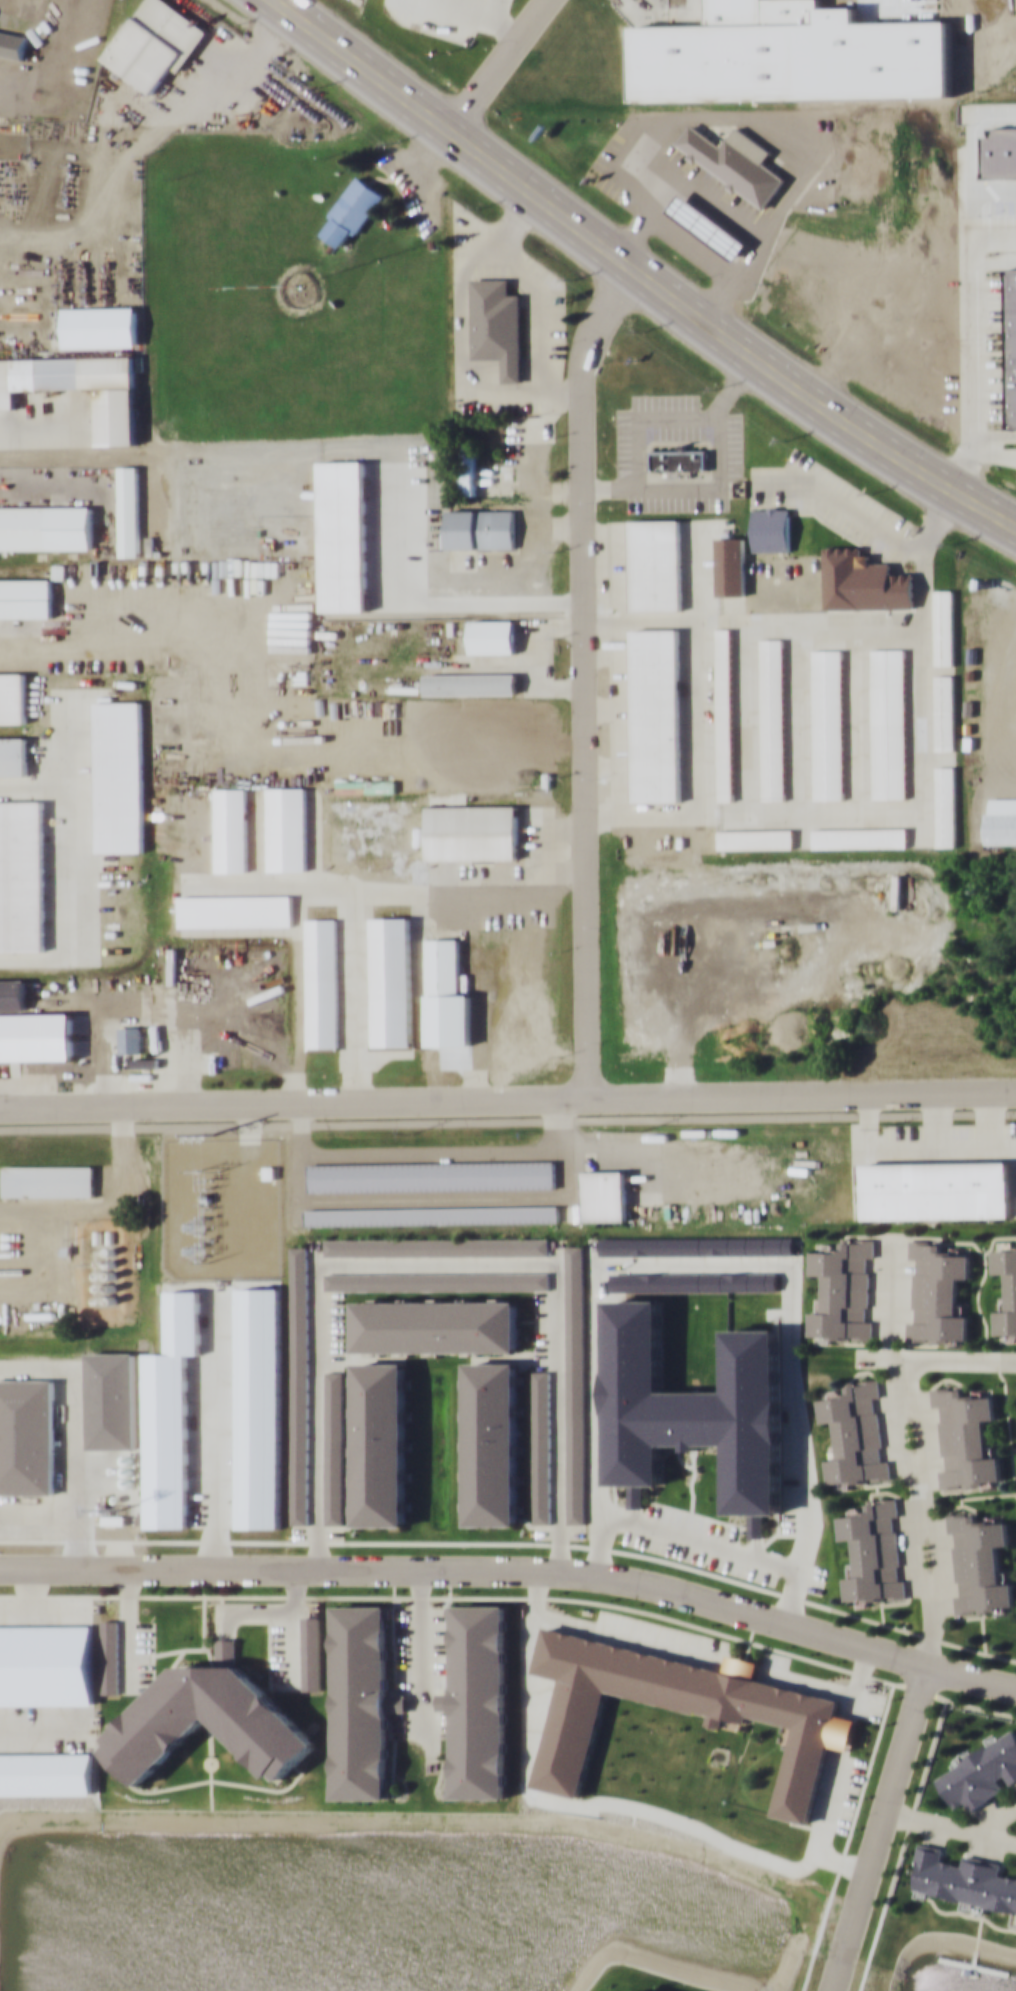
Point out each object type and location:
building: (154, 42)
building: (13, 43)
road: (499, 64)
building: (834, 169)
building: (1, 171)
building: (631, 186)
building: (353, 211)
road: (639, 272)
building: (498, 324)
building: (99, 325)
building: (1004, 345)
building: (116, 398)
building: (680, 460)
building: (468, 468)
building: (129, 510)
building: (45, 527)
building: (481, 528)
building: (771, 528)
building: (656, 564)
building: (730, 565)
building: (863, 581)
building: (26, 597)
building: (943, 626)
building: (493, 635)
road: (51, 649)
road: (584, 675)
building: (471, 683)
building: (13, 697)
building: (944, 712)
building: (724, 713)
building: (656, 715)
building: (772, 718)
building: (888, 723)
building: (827, 724)
building: (13, 756)
building: (119, 776)
building: (945, 806)
building: (1001, 821)
building: (287, 828)
building: (232, 829)
building: (472, 832)
building: (859, 838)
building: (755, 839)
building: (21, 874)
building: (236, 910)
road: (351, 918)
building: (443, 967)
building: (391, 980)
building: (322, 982)
building: (13, 993)
building: (130, 1038)
road: (508, 1100)
road: (508, 1121)
power tower: (207, 1171)
building: (431, 1175)
building: (49, 1180)
building: (936, 1189)
building: (605, 1195)
power substation: (222, 1207)
building: (429, 1215)
building: (437, 1246)
building: (437, 1280)
building: (1006, 1288)
building: (842, 1291)
building: (937, 1292)
building: (437, 1325)
building: (300, 1385)
building: (575, 1385)
building: (854, 1434)
building: (27, 1436)
building: (965, 1437)
building: (493, 1443)
building: (381, 1444)
building: (542, 1446)
building: (334, 1447)
road: (918, 1512)
building: (873, 1551)
building: (979, 1563)
road: (515, 1568)
building: (311, 1652)
building: (110, 1656)
building: (211, 1691)
building: (362, 1700)
building: (481, 1700)
building: (809, 1724)
building: (982, 1771)
road: (878, 1826)
building: (965, 1880)

